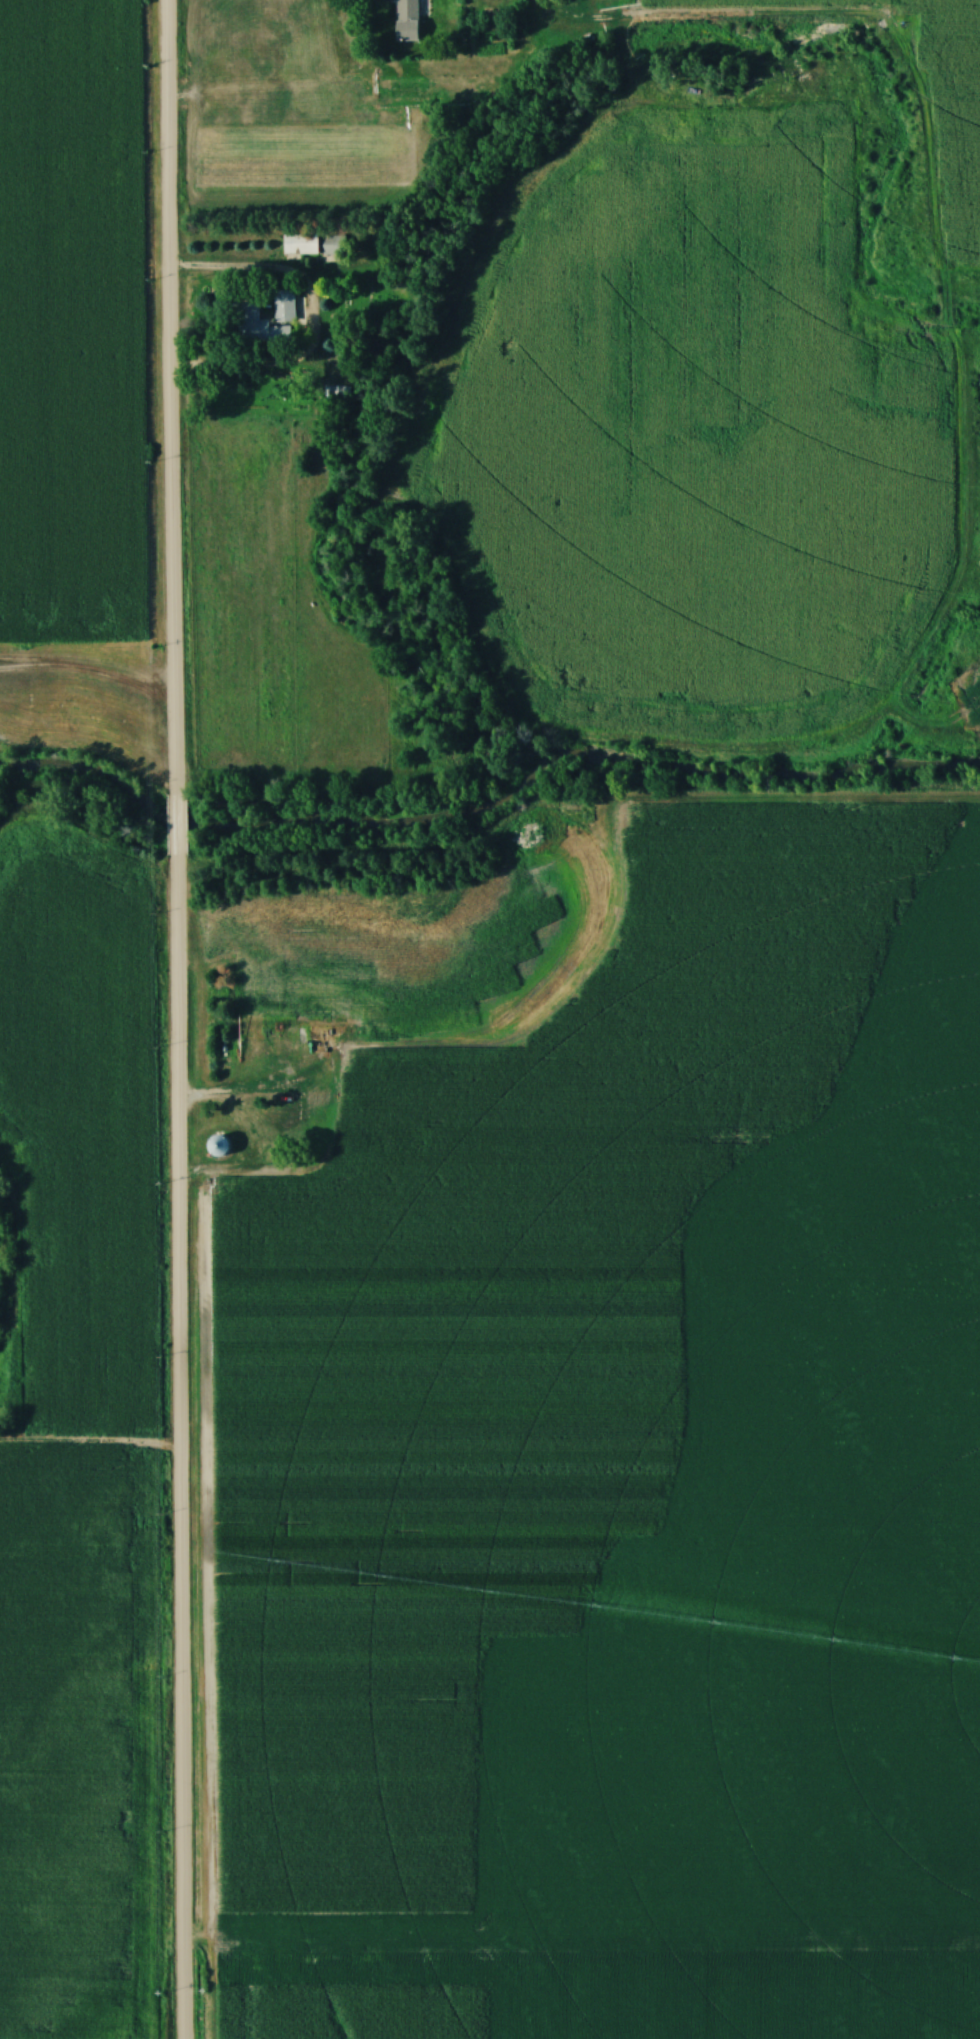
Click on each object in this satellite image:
building: (407, 20)
building: (300, 244)
building: (335, 246)
building: (284, 306)
road: (305, 321)
building: (260, 328)
building: (339, 395)
road: (167, 398)
river: (490, 799)
building: (576, 806)
road: (178, 827)
road: (351, 1140)
building: (219, 1147)
road: (175, 1448)

